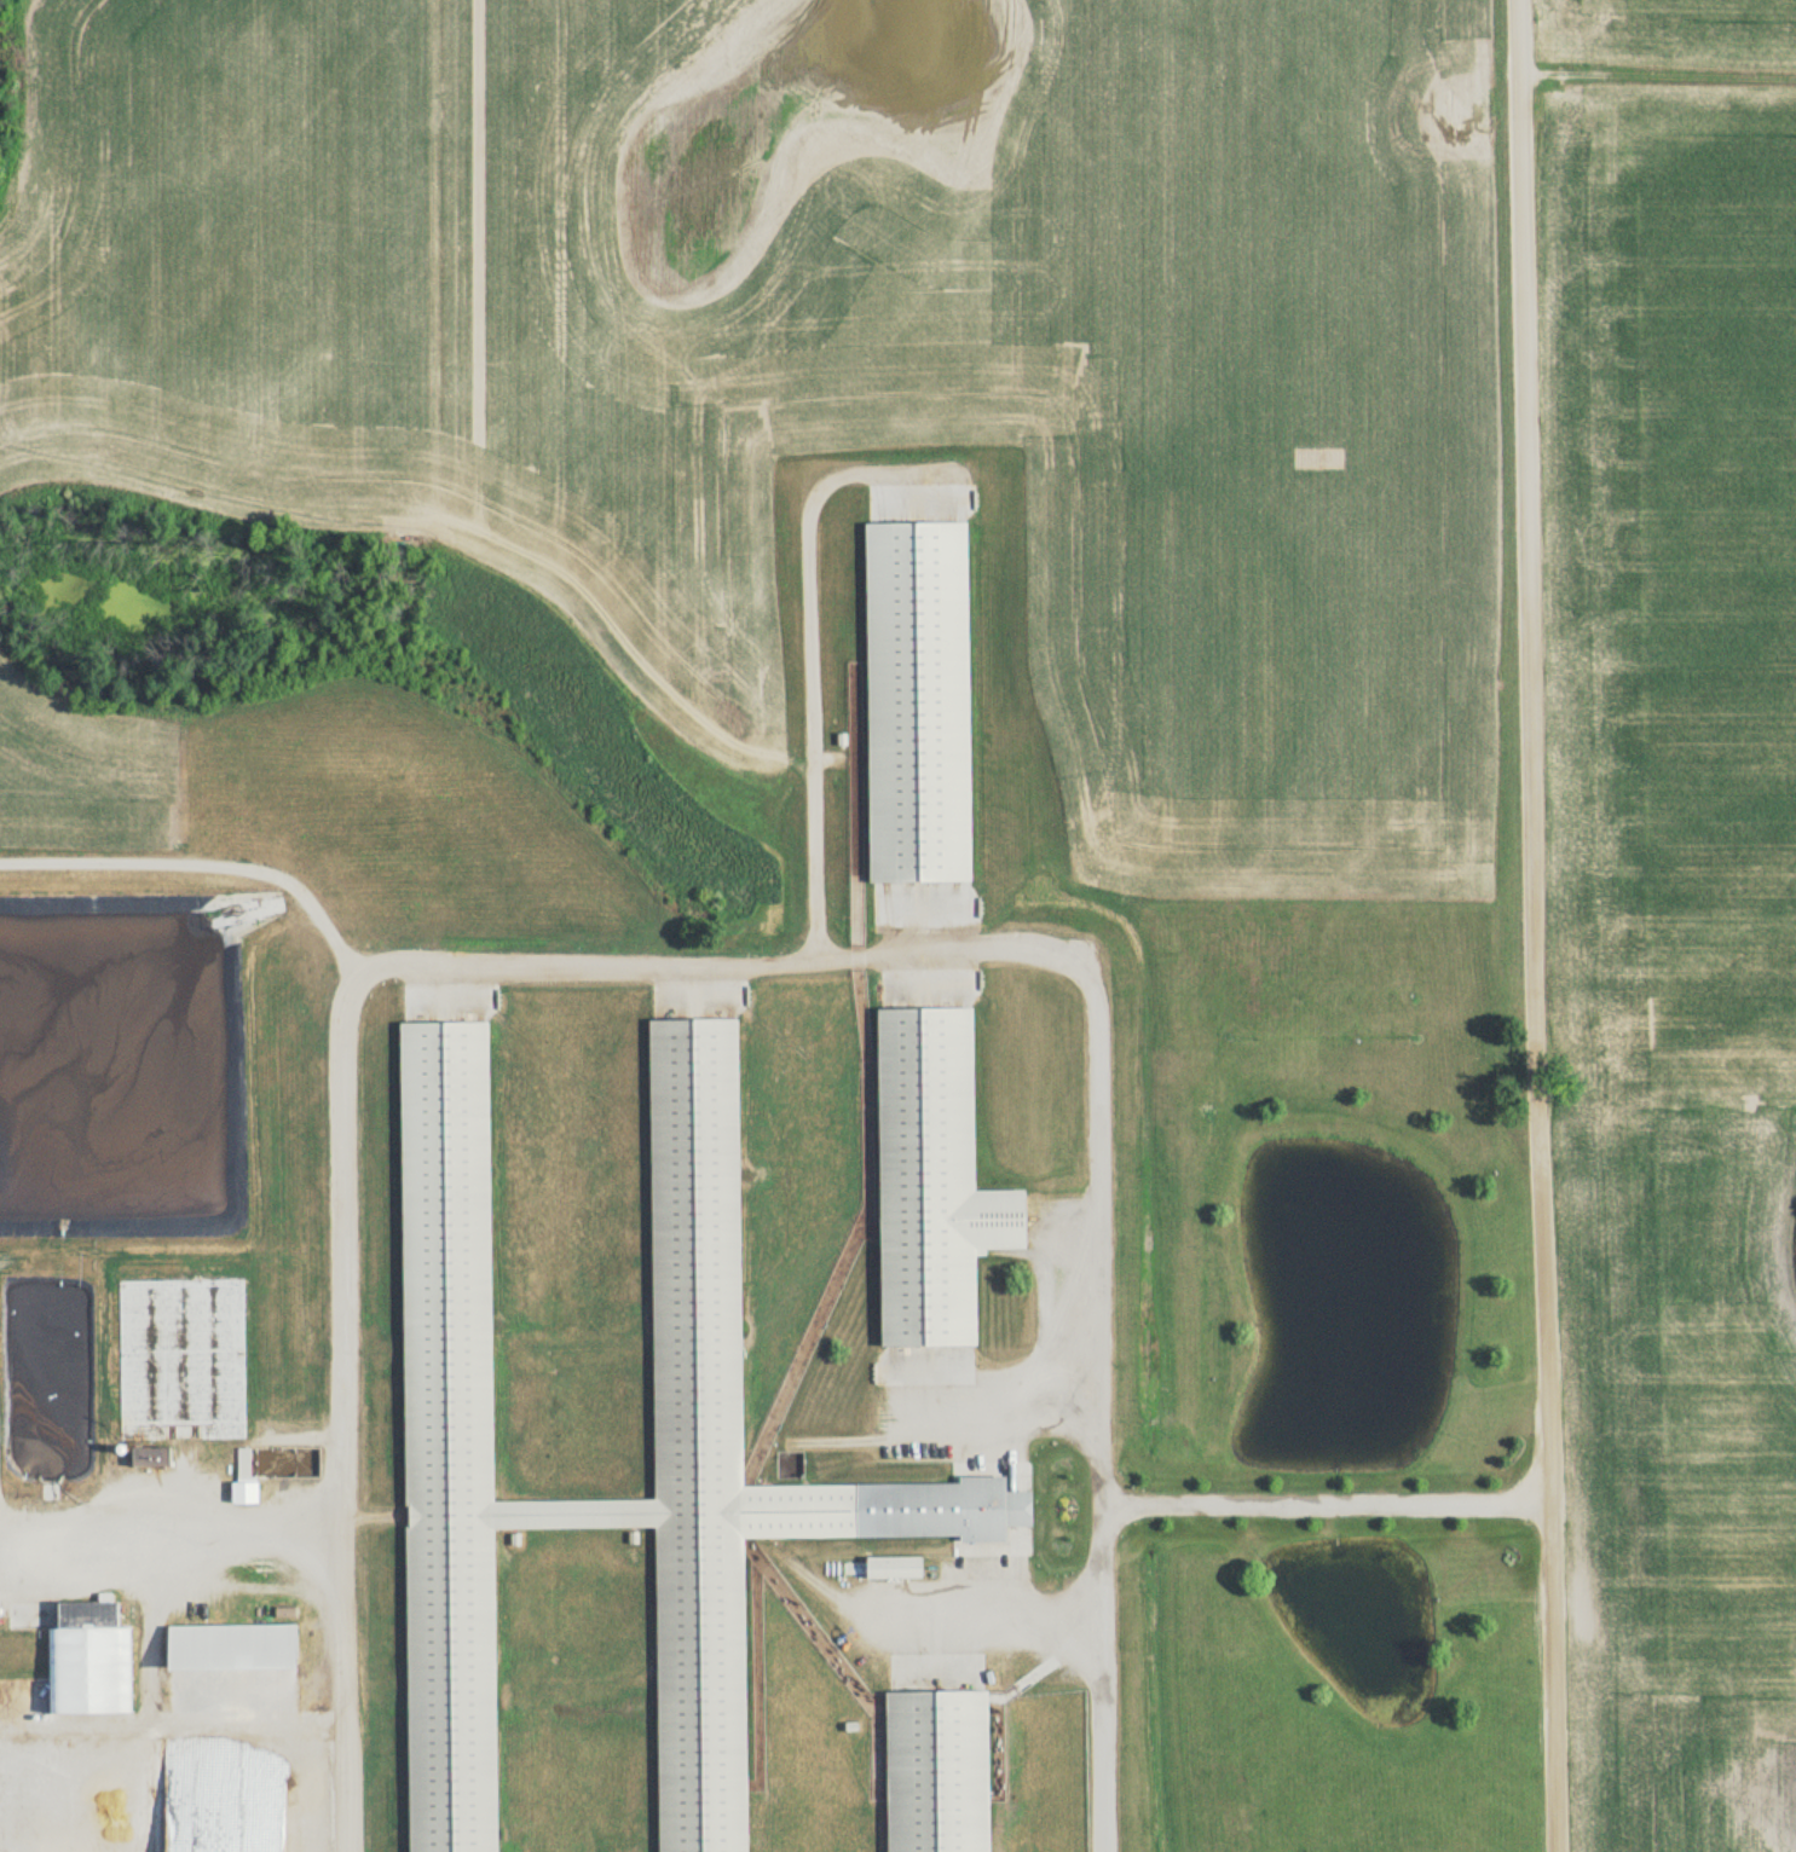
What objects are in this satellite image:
road: (804, 671)
building: (911, 702)
road: (203, 861)
road: (1538, 925)
road: (553, 962)
building: (926, 1181)
building: (689, 1250)
building: (179, 1359)
road: (1003, 1408)
building: (145, 1458)
road: (1326, 1501)
building: (885, 1569)
road: (992, 1619)
building: (224, 1649)
building: (82, 1661)
road: (1103, 1677)
building: (930, 1772)
building: (40, 1821)

